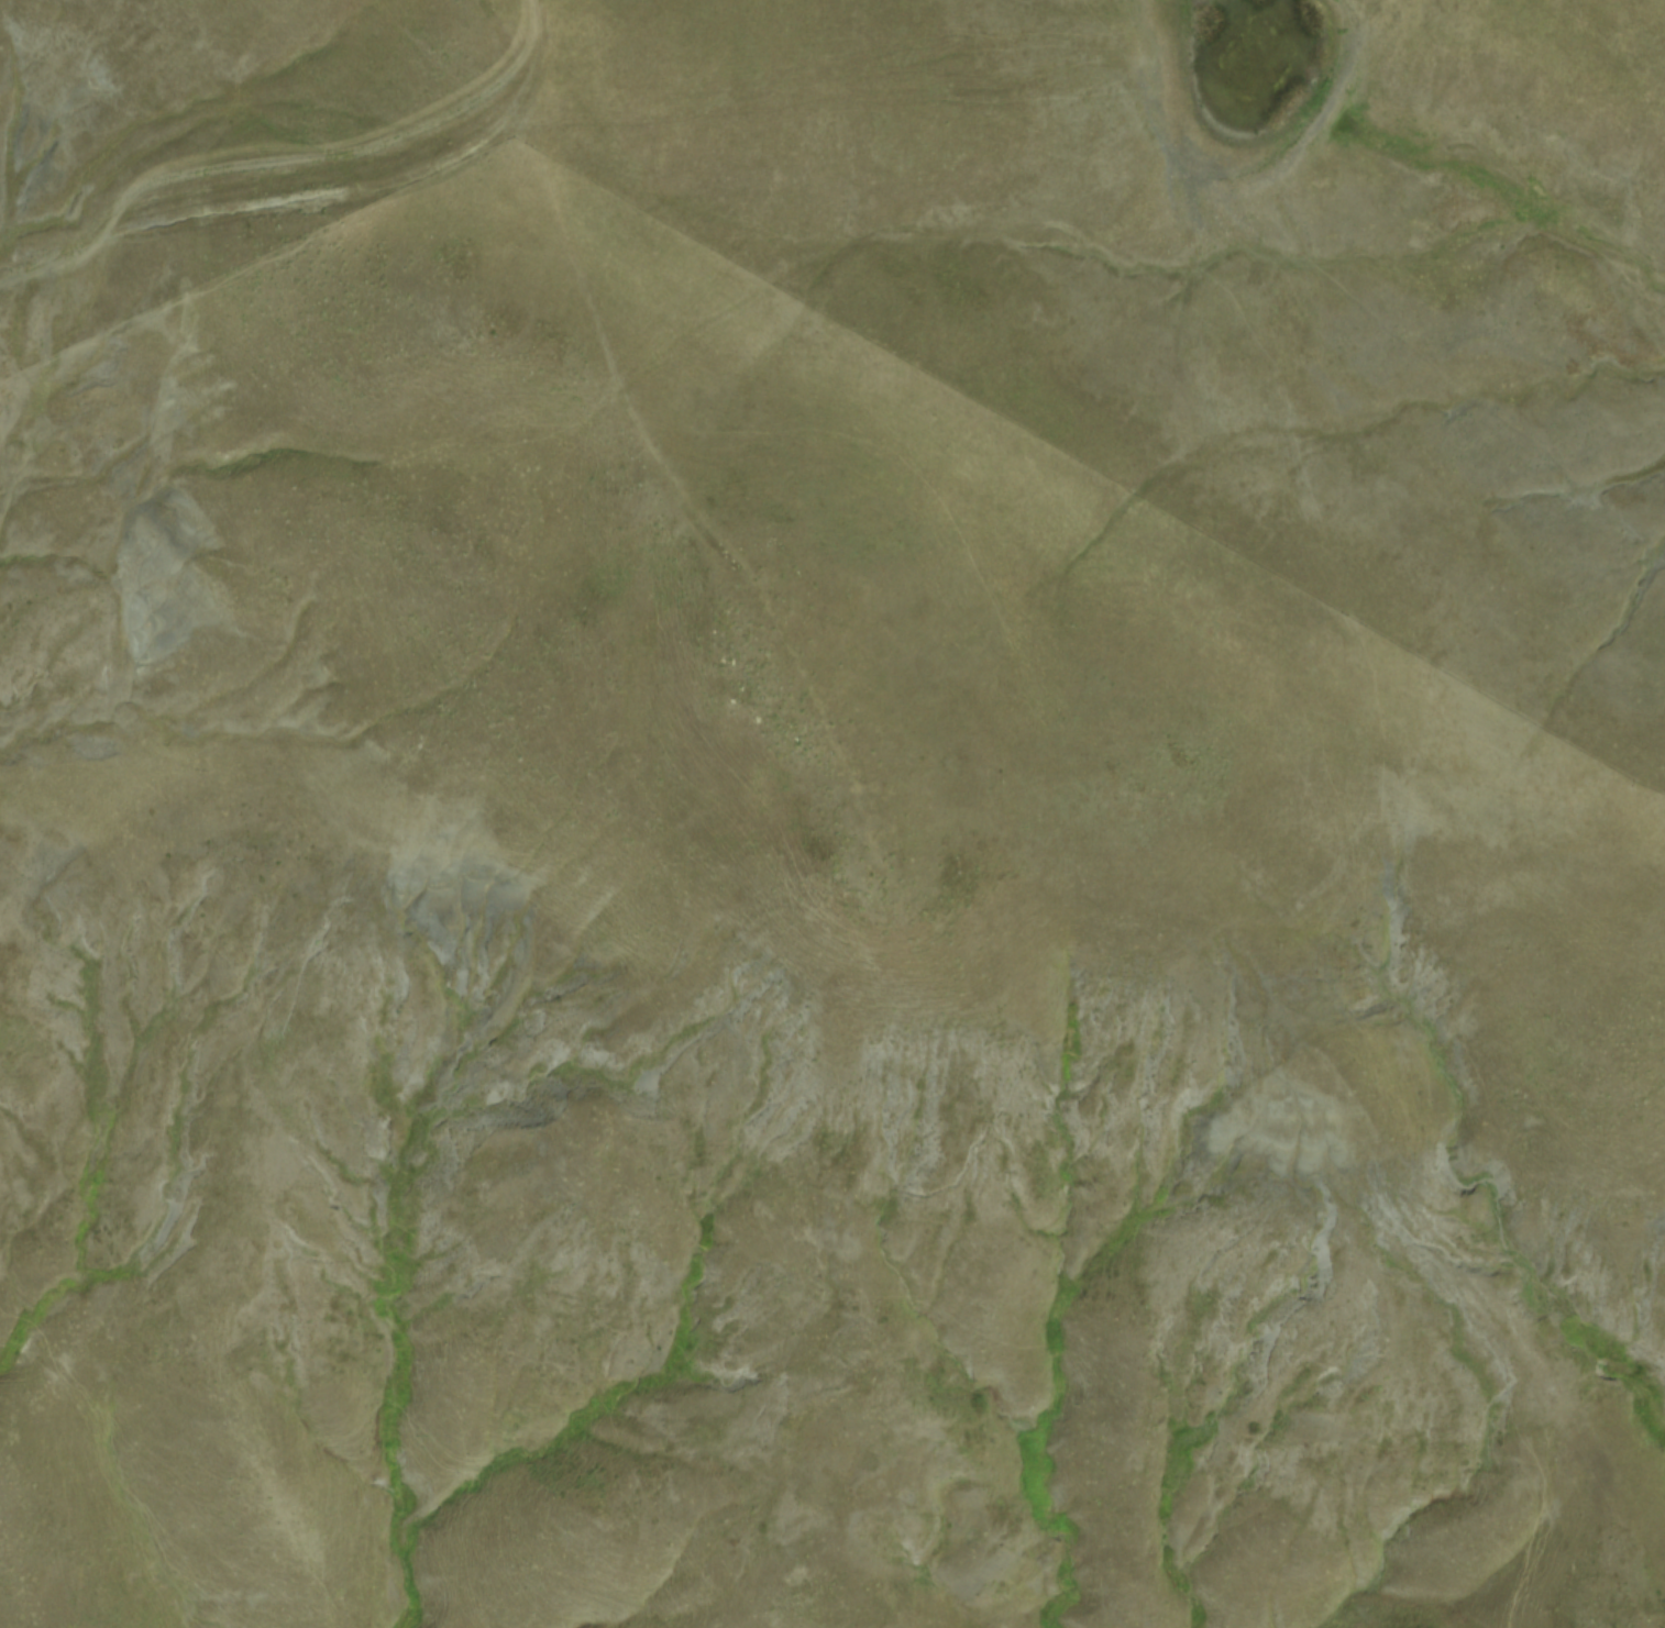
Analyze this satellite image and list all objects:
road: (526, 37)
road: (290, 193)

